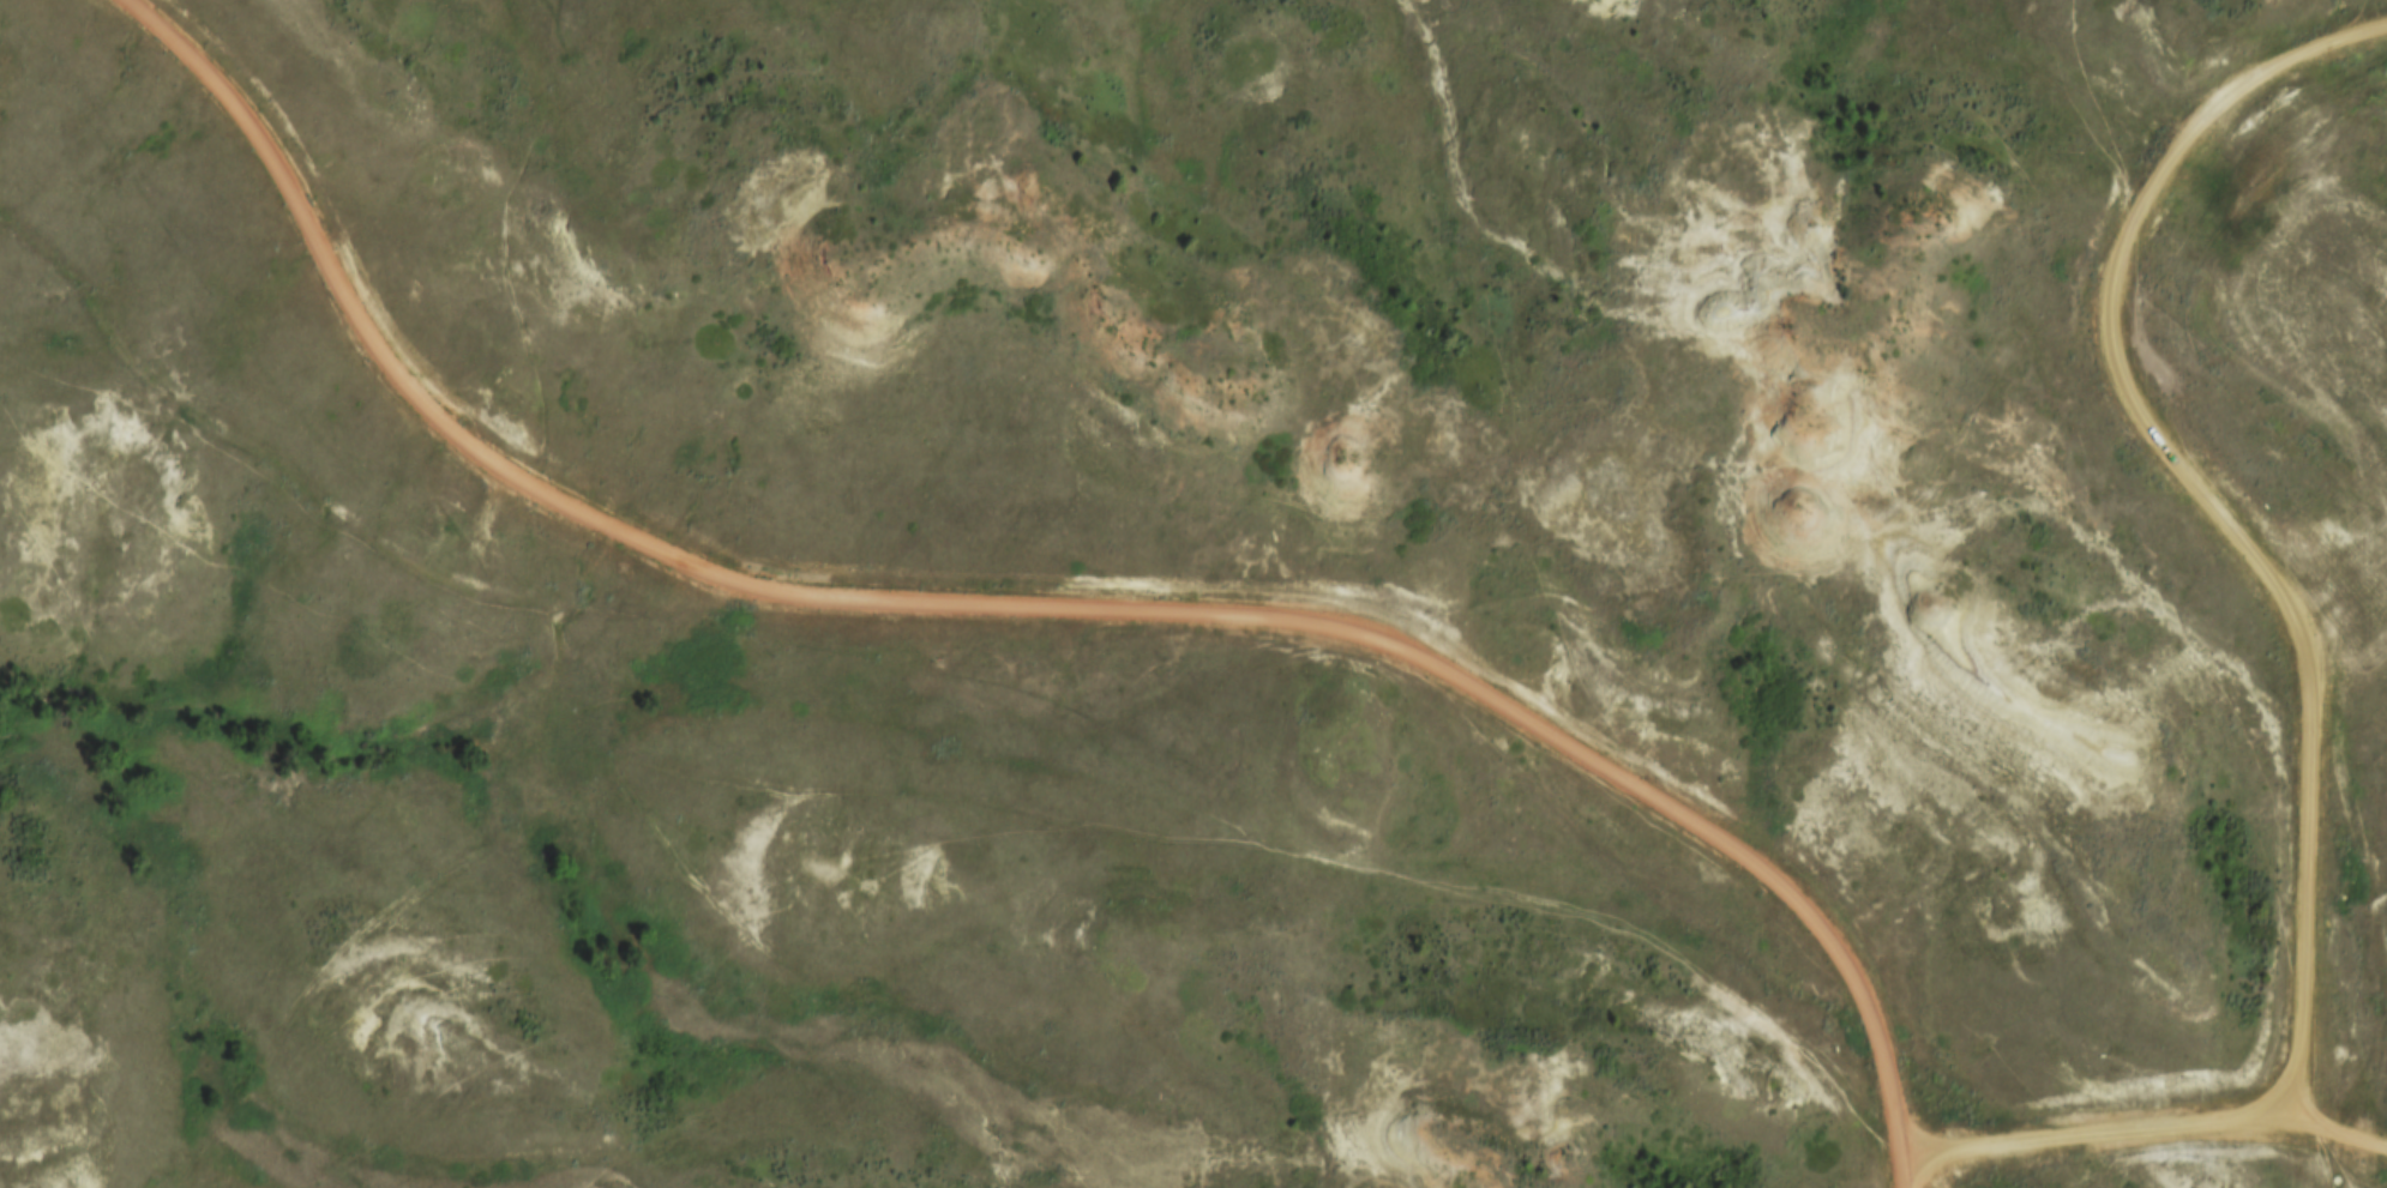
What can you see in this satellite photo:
road: (2368, 326)
road: (2215, 503)
road: (2344, 596)
road: (1011, 614)
road: (2104, 1134)
road: (2344, 1134)
road: (1908, 1174)

